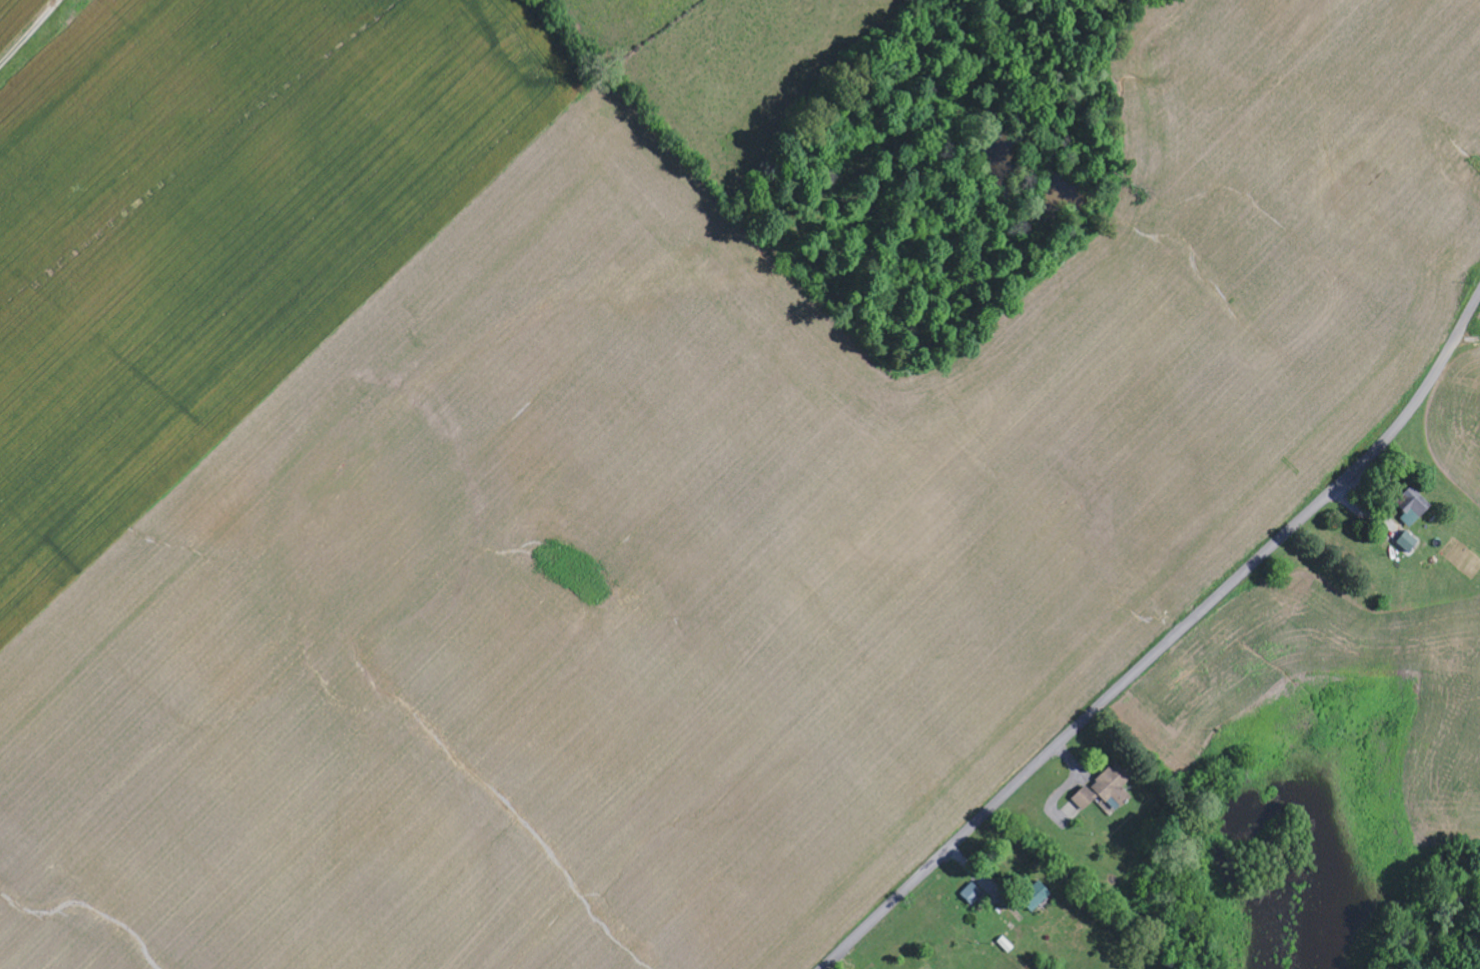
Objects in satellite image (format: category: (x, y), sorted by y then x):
building: (1418, 513)
building: (1411, 543)
road: (1168, 646)
building: (1108, 790)
building: (970, 894)
building: (1041, 900)

